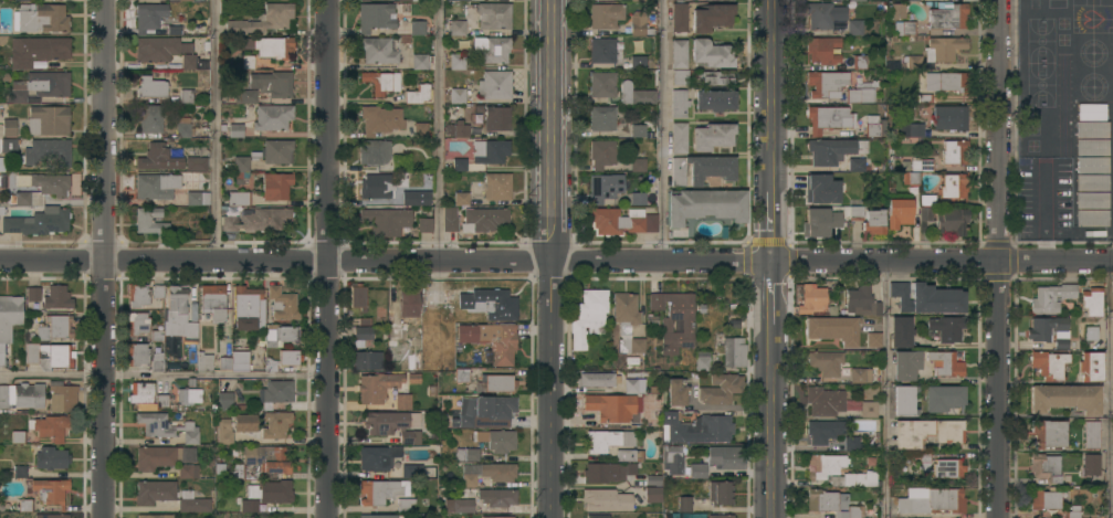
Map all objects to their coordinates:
building: (21, 0)
building: (185, 0)
building: (409, 0)
building: (443, 0)
building: (502, 0)
building: (638, 0)
building: (857, 0)
building: (912, 0)
building: (365, 1)
building: (451, 1)
building: (897, 11)
building: (823, 14)
building: (946, 14)
building: (494, 15)
building: (605, 15)
building: (150, 17)
building: (376, 17)
building: (711, 17)
building: (41, 18)
building: (679, 18)
building: (263, 20)
building: (639, 24)
building: (417, 28)
building: (454, 28)
building: (854, 28)
building: (904, 28)
building: (174, 30)
building: (270, 46)
building: (159, 49)
building: (492, 49)
building: (943, 49)
building: (379, 50)
building: (822, 50)
building: (38, 51)
building: (602, 51)
building: (679, 54)
building: (711, 54)
building: (458, 61)
building: (193, 62)
building: (248, 62)
building: (422, 62)
building: (639, 62)
building: (859, 62)
building: (912, 62)
building: (680, 77)
building: (716, 77)
building: (382, 82)
building: (946, 82)
building: (49, 83)
building: (825, 83)
building: (272, 84)
building: (602, 84)
building: (494, 85)
building: (151, 86)
building: (18, 92)
building: (418, 94)
building: (634, 94)
building: (860, 95)
building: (186, 96)
building: (245, 96)
building: (458, 96)
building: (927, 98)
building: (715, 99)
building: (679, 103)
road: (773, 103)
building: (1091, 112)
building: (148, 117)
building: (272, 117)
building: (496, 118)
building: (602, 118)
building: (828, 118)
building: (949, 118)
building: (380, 119)
building: (48, 120)
building: (873, 126)
building: (9, 127)
building: (182, 127)
building: (420, 129)
building: (461, 129)
building: (1091, 129)
building: (235, 130)
building: (638, 130)
road: (664, 130)
building: (911, 130)
road: (999, 130)
road: (216, 131)
road: (438, 131)
building: (712, 136)
building: (679, 137)
building: (8, 146)
building: (1091, 147)
building: (829, 150)
building: (46, 151)
building: (274, 151)
building: (374, 151)
building: (490, 151)
building: (953, 152)
building: (602, 154)
building: (158, 157)
building: (638, 160)
building: (196, 163)
building: (855, 163)
building: (401, 165)
building: (459, 165)
building: (1091, 165)
building: (926, 166)
building: (241, 167)
building: (702, 169)
building: (911, 178)
building: (1091, 182)
building: (156, 186)
building: (276, 186)
building: (374, 187)
building: (497, 187)
building: (605, 187)
building: (953, 187)
building: (40, 188)
building: (821, 189)
building: (197, 198)
building: (417, 198)
building: (237, 199)
building: (461, 199)
building: (638, 199)
building: (926, 200)
building: (1091, 200)
building: (706, 205)
road: (1042, 212)
building: (855, 213)
building: (899, 213)
building: (925, 213)
building: (1091, 218)
building: (450, 219)
building: (486, 219)
building: (259, 220)
building: (39, 221)
building: (150, 221)
building: (386, 221)
building: (621, 221)
building: (873, 221)
building: (951, 221)
building: (426, 222)
building: (815, 222)
road: (773, 234)
road: (105, 258)
road: (328, 258)
road: (553, 258)
road: (556, 262)
building: (1112, 286)
road: (773, 288)
building: (158, 292)
building: (32, 294)
building: (138, 295)
building: (358, 296)
building: (56, 297)
building: (926, 297)
building: (1051, 297)
building: (811, 298)
building: (472, 300)
building: (1091, 300)
building: (861, 302)
building: (211, 304)
building: (283, 304)
building: (408, 304)
building: (248, 308)
building: (701, 308)
building: (178, 315)
building: (588, 317)
building: (9, 318)
building: (627, 321)
building: (137, 323)
building: (666, 326)
building: (55, 327)
building: (946, 327)
building: (832, 329)
building: (1048, 330)
building: (901, 331)
building: (363, 332)
building: (1090, 332)
building: (280, 335)
building: (393, 335)
building: (157, 336)
building: (492, 339)
building: (873, 339)
building: (734, 351)
building: (137, 353)
building: (49, 355)
building: (288, 358)
building: (367, 360)
building: (632, 360)
building: (203, 361)
building: (235, 361)
building: (702, 361)
building: (157, 362)
building: (825, 362)
building: (945, 363)
building: (905, 364)
building: (1049, 364)
building: (1090, 367)
road: (164, 373)
building: (461, 374)
building: (865, 376)
building: (413, 379)
building: (596, 379)
building: (495, 382)
building: (376, 387)
building: (631, 387)
building: (721, 389)
road: (885, 390)
road: (1000, 390)
road: (1107, 390)
building: (676, 391)
building: (140, 392)
building: (275, 392)
building: (21, 395)
building: (188, 395)
building: (943, 397)
building: (62, 398)
building: (1065, 398)
building: (224, 400)
building: (904, 400)
building: (161, 401)
building: (823, 401)
building: (402, 402)
building: (611, 406)
building: (869, 409)
building: (486, 411)
road: (773, 416)
building: (245, 423)
building: (275, 424)
building: (393, 424)
building: (49, 426)
building: (166, 427)
building: (696, 427)
building: (224, 431)
building: (823, 431)
building: (926, 432)
building: (1047, 433)
building: (1090, 434)
building: (18, 436)
building: (496, 440)
building: (609, 440)
building: (852, 443)
building: (466, 454)
building: (626, 455)
building: (639, 456)
building: (157, 457)
building: (377, 457)
building: (724, 457)
building: (51, 458)
building: (271, 458)
building: (923, 461)
building: (681, 464)
building: (1091, 464)
building: (823, 465)
building: (1044, 467)
building: (947, 468)
building: (187, 471)
building: (237, 471)
building: (411, 471)
building: (17, 472)
building: (497, 472)
building: (605, 472)
building: (652, 479)
building: (854, 479)
building: (469, 480)
building: (50, 490)
building: (380, 490)
building: (155, 491)
building: (271, 491)
building: (720, 493)
building: (652, 494)
building: (497, 497)
building: (1044, 499)
building: (606, 500)
building: (931, 500)
building: (192, 503)
building: (405, 504)
building: (684, 504)
building: (831, 504)
building: (24, 505)
building: (249, 506)
building: (462, 506)
building: (50, 516)
building: (155, 516)
building: (377, 516)
building: (597, 516)
building: (720, 516)
building: (496, 517)

